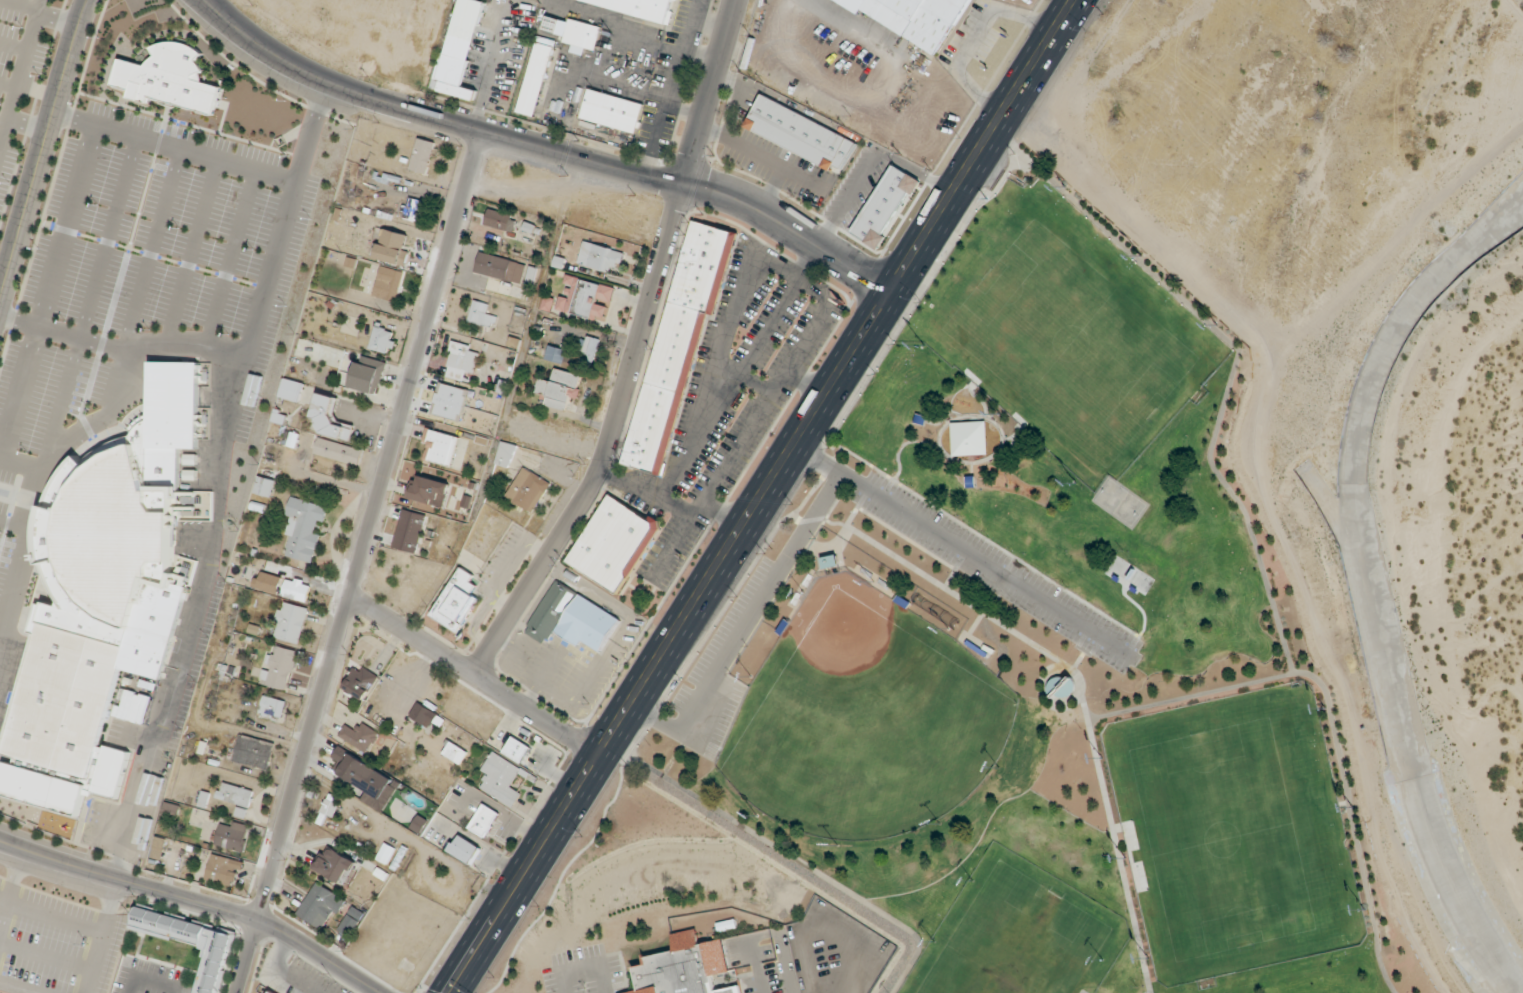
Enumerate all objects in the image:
building: (641, 7)
building: (915, 19)
road: (707, 25)
building: (575, 32)
road: (973, 38)
building: (459, 51)
road: (699, 54)
road: (672, 68)
building: (536, 75)
building: (170, 78)
road: (710, 91)
road: (776, 95)
building: (612, 110)
road: (312, 124)
road: (713, 133)
building: (800, 133)
road: (547, 147)
road: (752, 150)
road: (43, 152)
building: (422, 155)
road: (773, 188)
building: (414, 209)
building: (500, 219)
building: (393, 247)
building: (600, 257)
building: (500, 268)
building: (388, 283)
road: (920, 292)
building: (586, 298)
park: (1042, 304)
building: (481, 314)
building: (382, 339)
building: (678, 347)
building: (589, 349)
building: (555, 354)
park: (1129, 355)
building: (462, 360)
building: (367, 374)
building: (560, 388)
building: (292, 390)
road: (979, 398)
road: (984, 414)
road: (943, 416)
building: (330, 418)
road: (945, 420)
road: (1029, 426)
road: (1000, 429)
building: (291, 439)
road: (611, 442)
road: (902, 444)
building: (443, 447)
building: (338, 451)
building: (506, 454)
road: (971, 469)
building: (265, 487)
building: (429, 490)
building: (528, 490)
road: (763, 496)
park: (1121, 502)
road: (1246, 516)
road: (797, 521)
road: (217, 526)
building: (304, 530)
building: (409, 531)
road: (973, 532)
road: (907, 535)
building: (613, 544)
road: (967, 552)
road: (356, 560)
building: (830, 561)
road: (954, 568)
parking lot: (997, 570)
building: (269, 582)
road: (941, 584)
building: (297, 588)
building: (108, 593)
building: (458, 601)
road: (1141, 608)
building: (572, 618)
building: (291, 622)
road: (976, 622)
road: (742, 629)
road: (1085, 649)
building: (279, 668)
road: (475, 673)
building: (361, 682)
building: (1060, 685)
road: (1044, 688)
park: (1003, 690)
road: (1189, 695)
building: (271, 707)
road: (652, 715)
building: (425, 716)
park: (865, 718)
building: (360, 736)
building: (517, 749)
building: (253, 751)
building: (455, 752)
building: (349, 764)
park: (1228, 766)
building: (501, 778)
building: (235, 797)
building: (484, 820)
road: (1157, 832)
building: (232, 835)
road: (1115, 842)
building: (464, 849)
road: (1139, 852)
road: (800, 861)
building: (334, 864)
building: (224, 870)
park: (1252, 874)
road: (127, 882)
building: (319, 905)
building: (351, 921)
road: (101, 936)
park: (1019, 941)
road: (318, 954)
road: (580, 966)
building: (685, 967)
road: (283, 970)
road: (603, 977)
road: (563, 981)
road: (145, 984)
building: (271, 991)
road: (377, 992)

